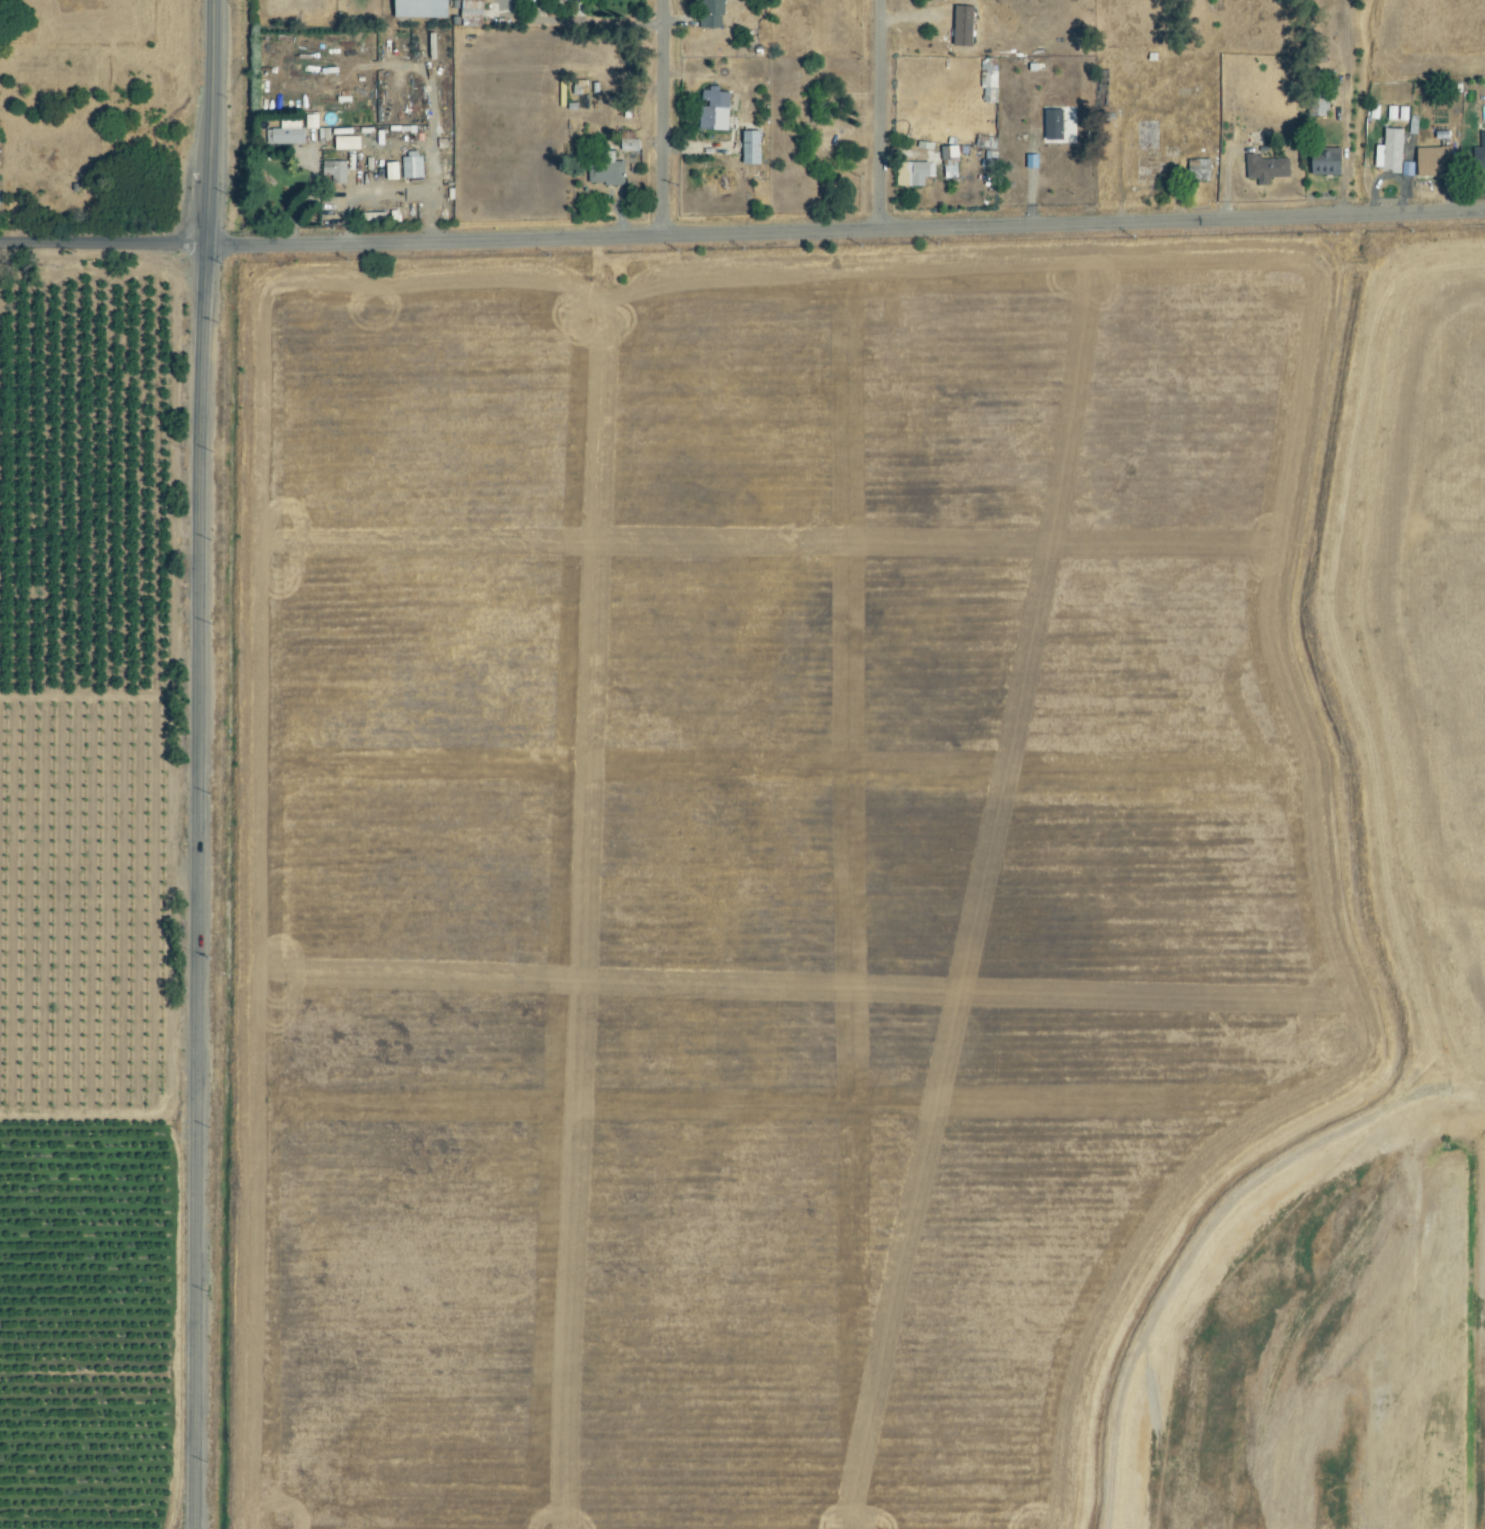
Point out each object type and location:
building: (424, 8)
building: (473, 13)
building: (713, 13)
building: (987, 81)
building: (716, 108)
road: (430, 112)
road: (877, 115)
building: (329, 118)
road: (659, 119)
building: (1050, 124)
building: (287, 132)
building: (348, 143)
building: (753, 147)
building: (986, 150)
building: (1479, 151)
building: (1389, 153)
building: (947, 161)
building: (1430, 161)
building: (1322, 164)
building: (413, 165)
building: (1265, 168)
building: (1199, 169)
building: (394, 170)
building: (335, 171)
building: (608, 171)
building: (911, 172)
road: (407, 193)
road: (305, 199)
road: (742, 235)
road: (197, 764)

